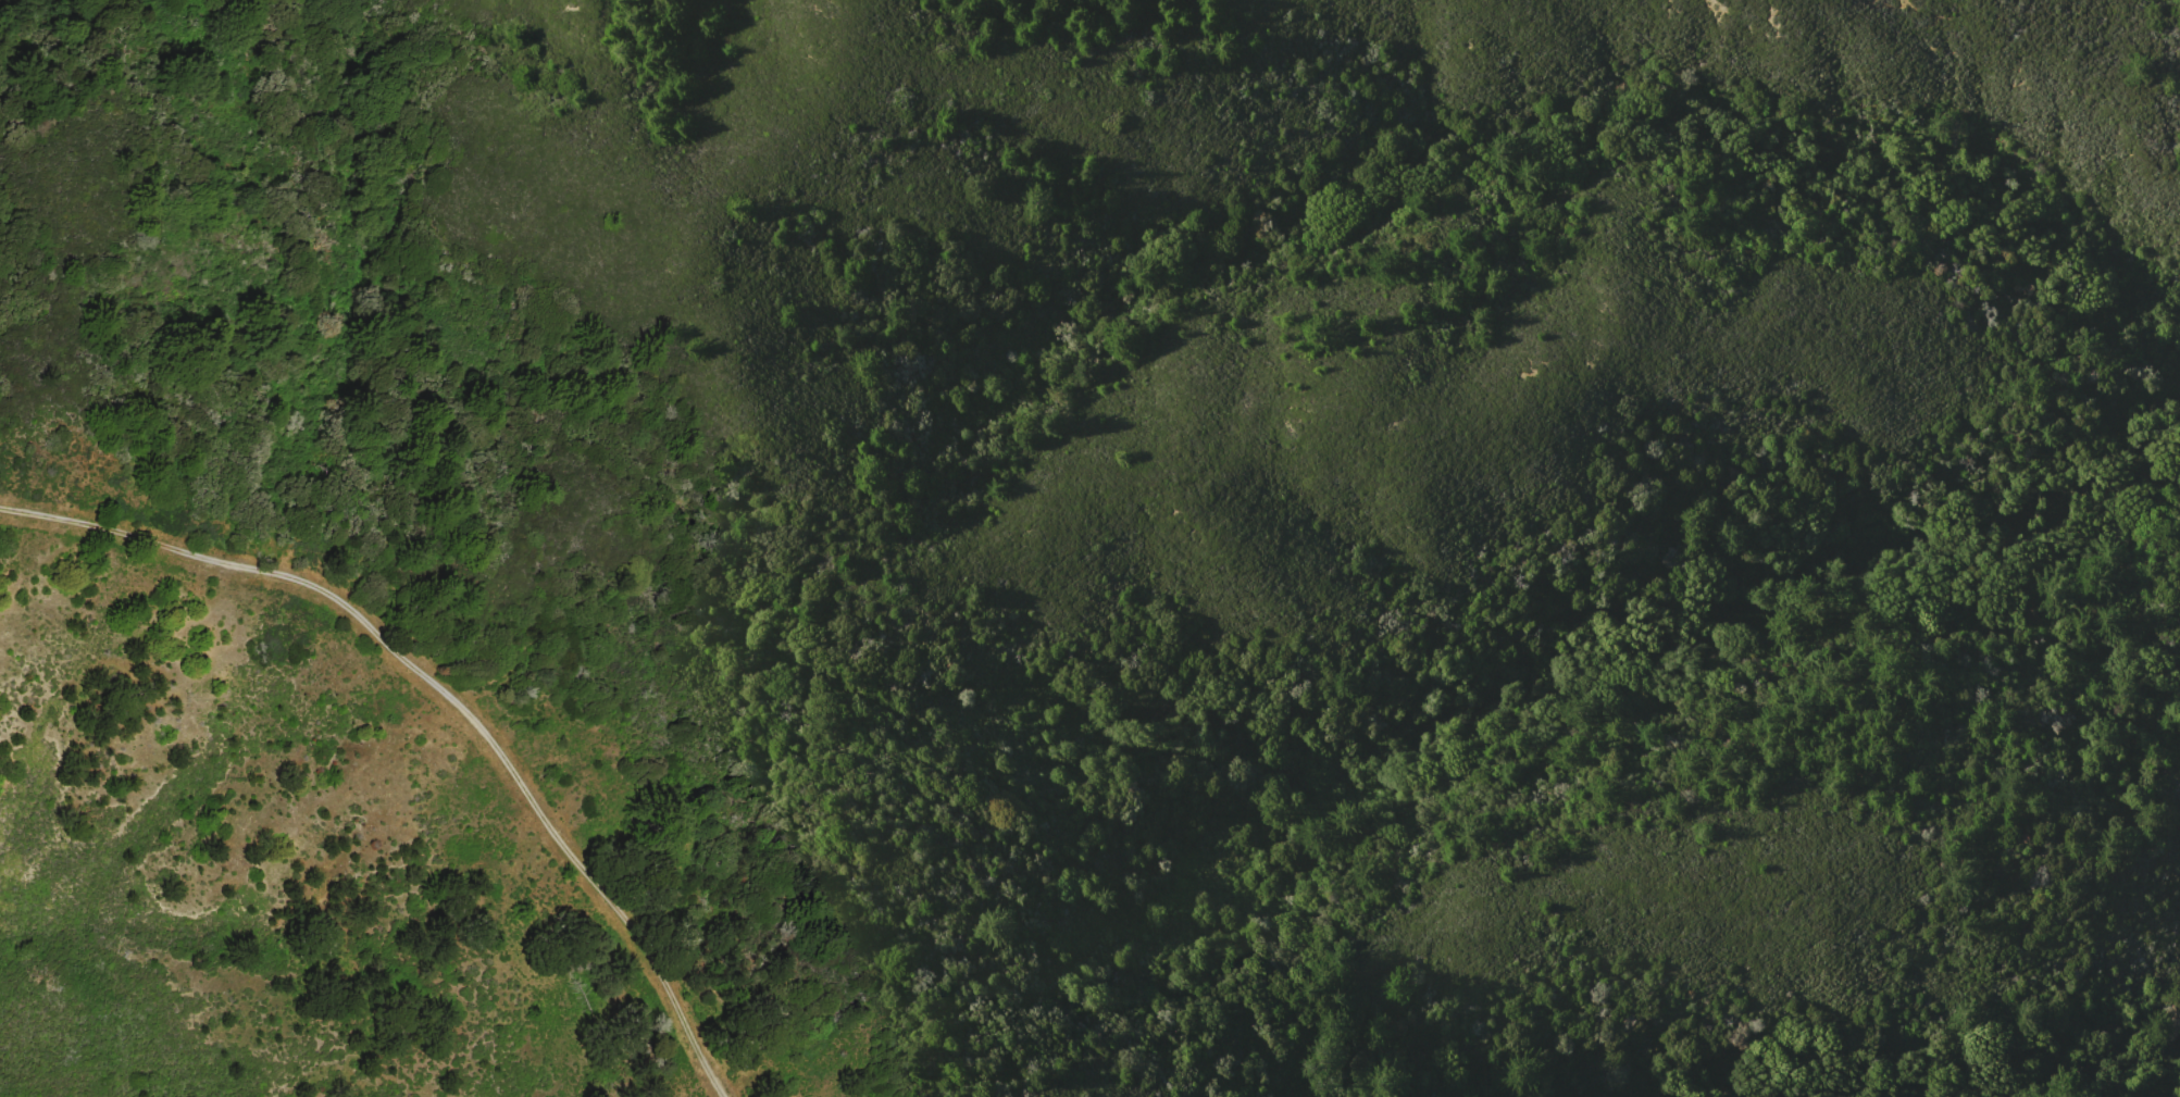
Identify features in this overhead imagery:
road: (448, 694)

